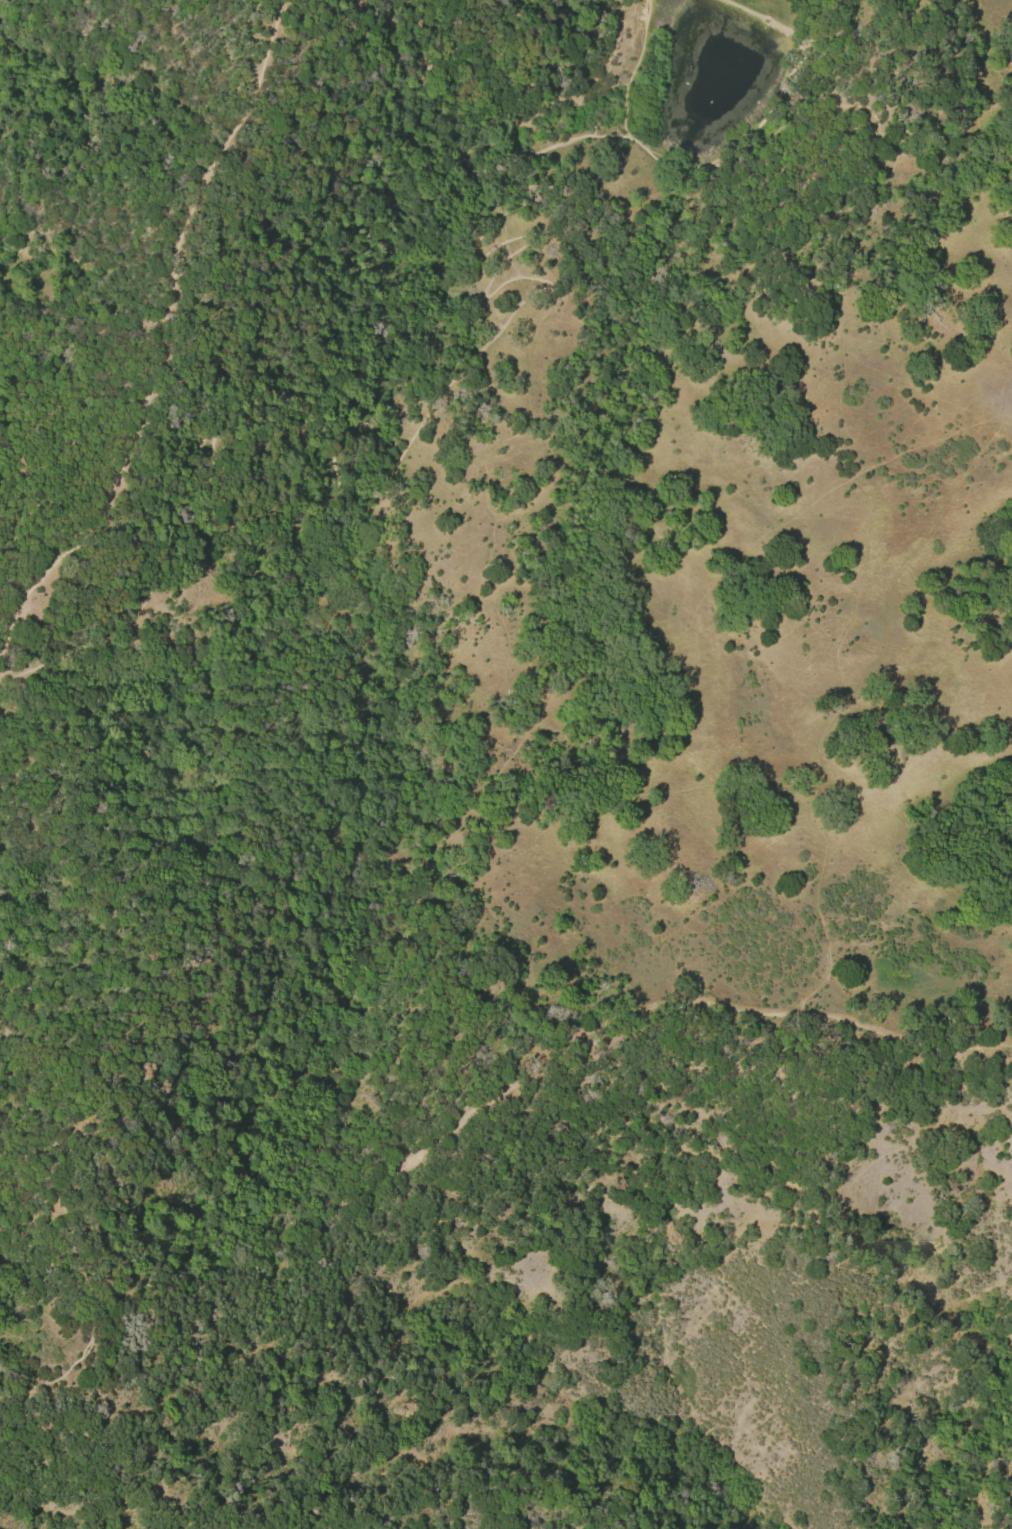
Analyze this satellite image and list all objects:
dam: (778, 11)
road: (822, 11)
road: (762, 18)
road: (632, 69)
road: (162, 333)
road: (410, 437)
road: (472, 794)
road: (435, 1142)
road: (34, 1258)

